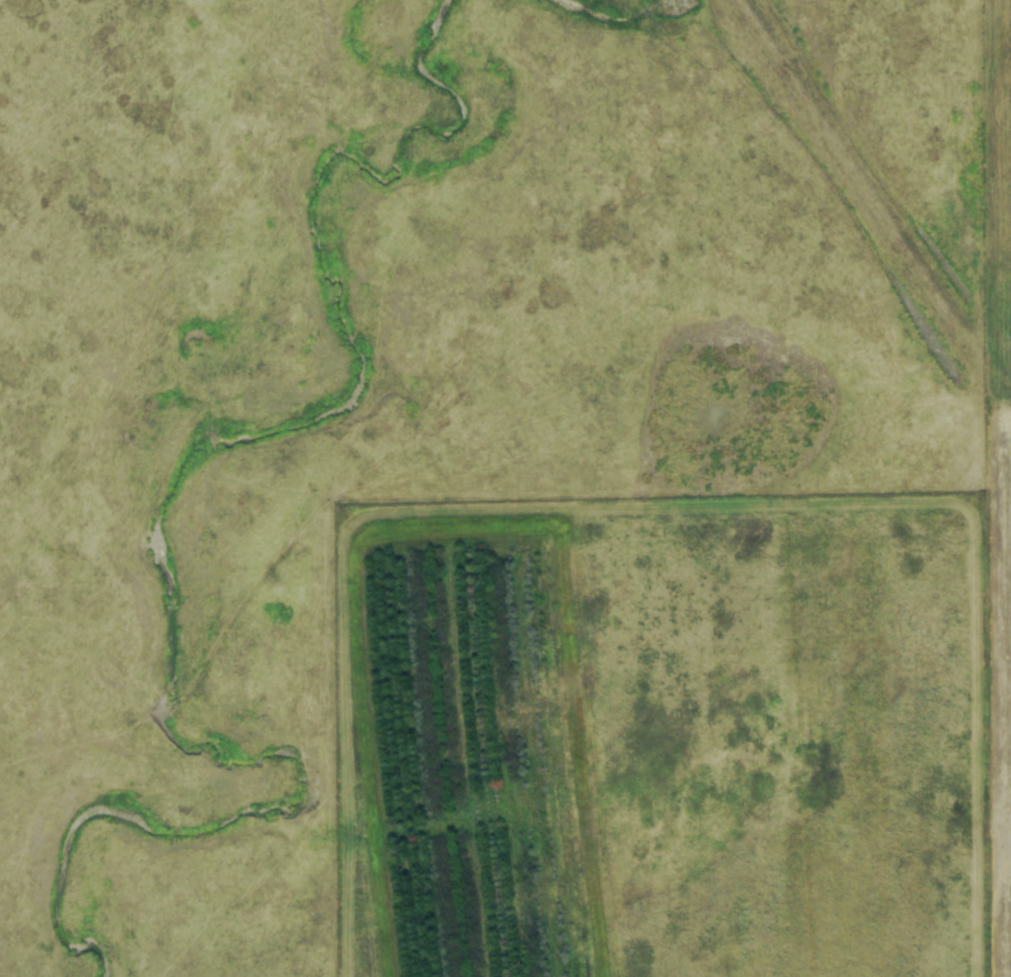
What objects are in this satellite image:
crop: (999, 381)

